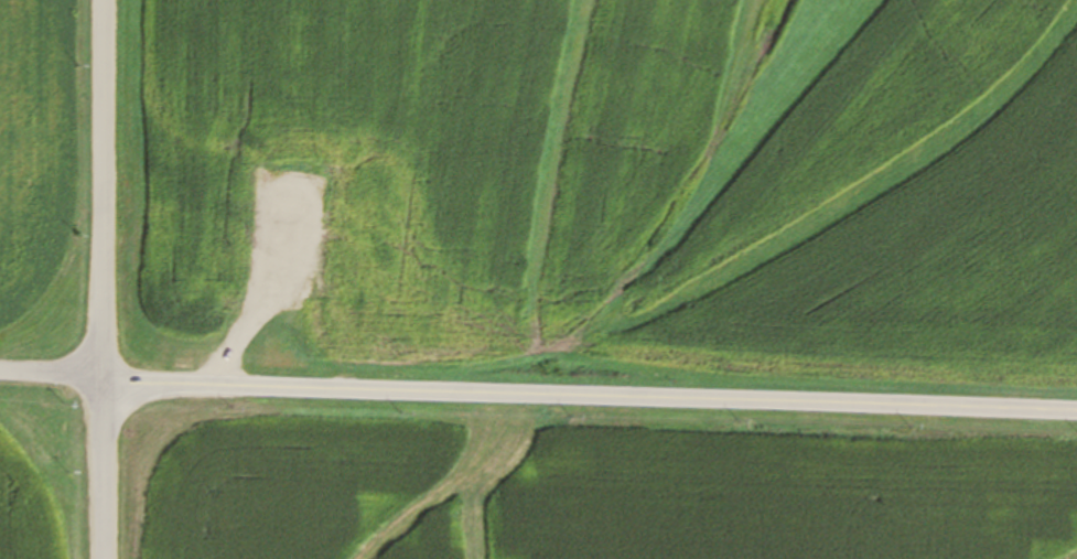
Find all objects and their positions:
building: (194, 269)
road: (103, 279)
building: (291, 279)
building: (354, 310)
road: (51, 374)
road: (589, 397)

